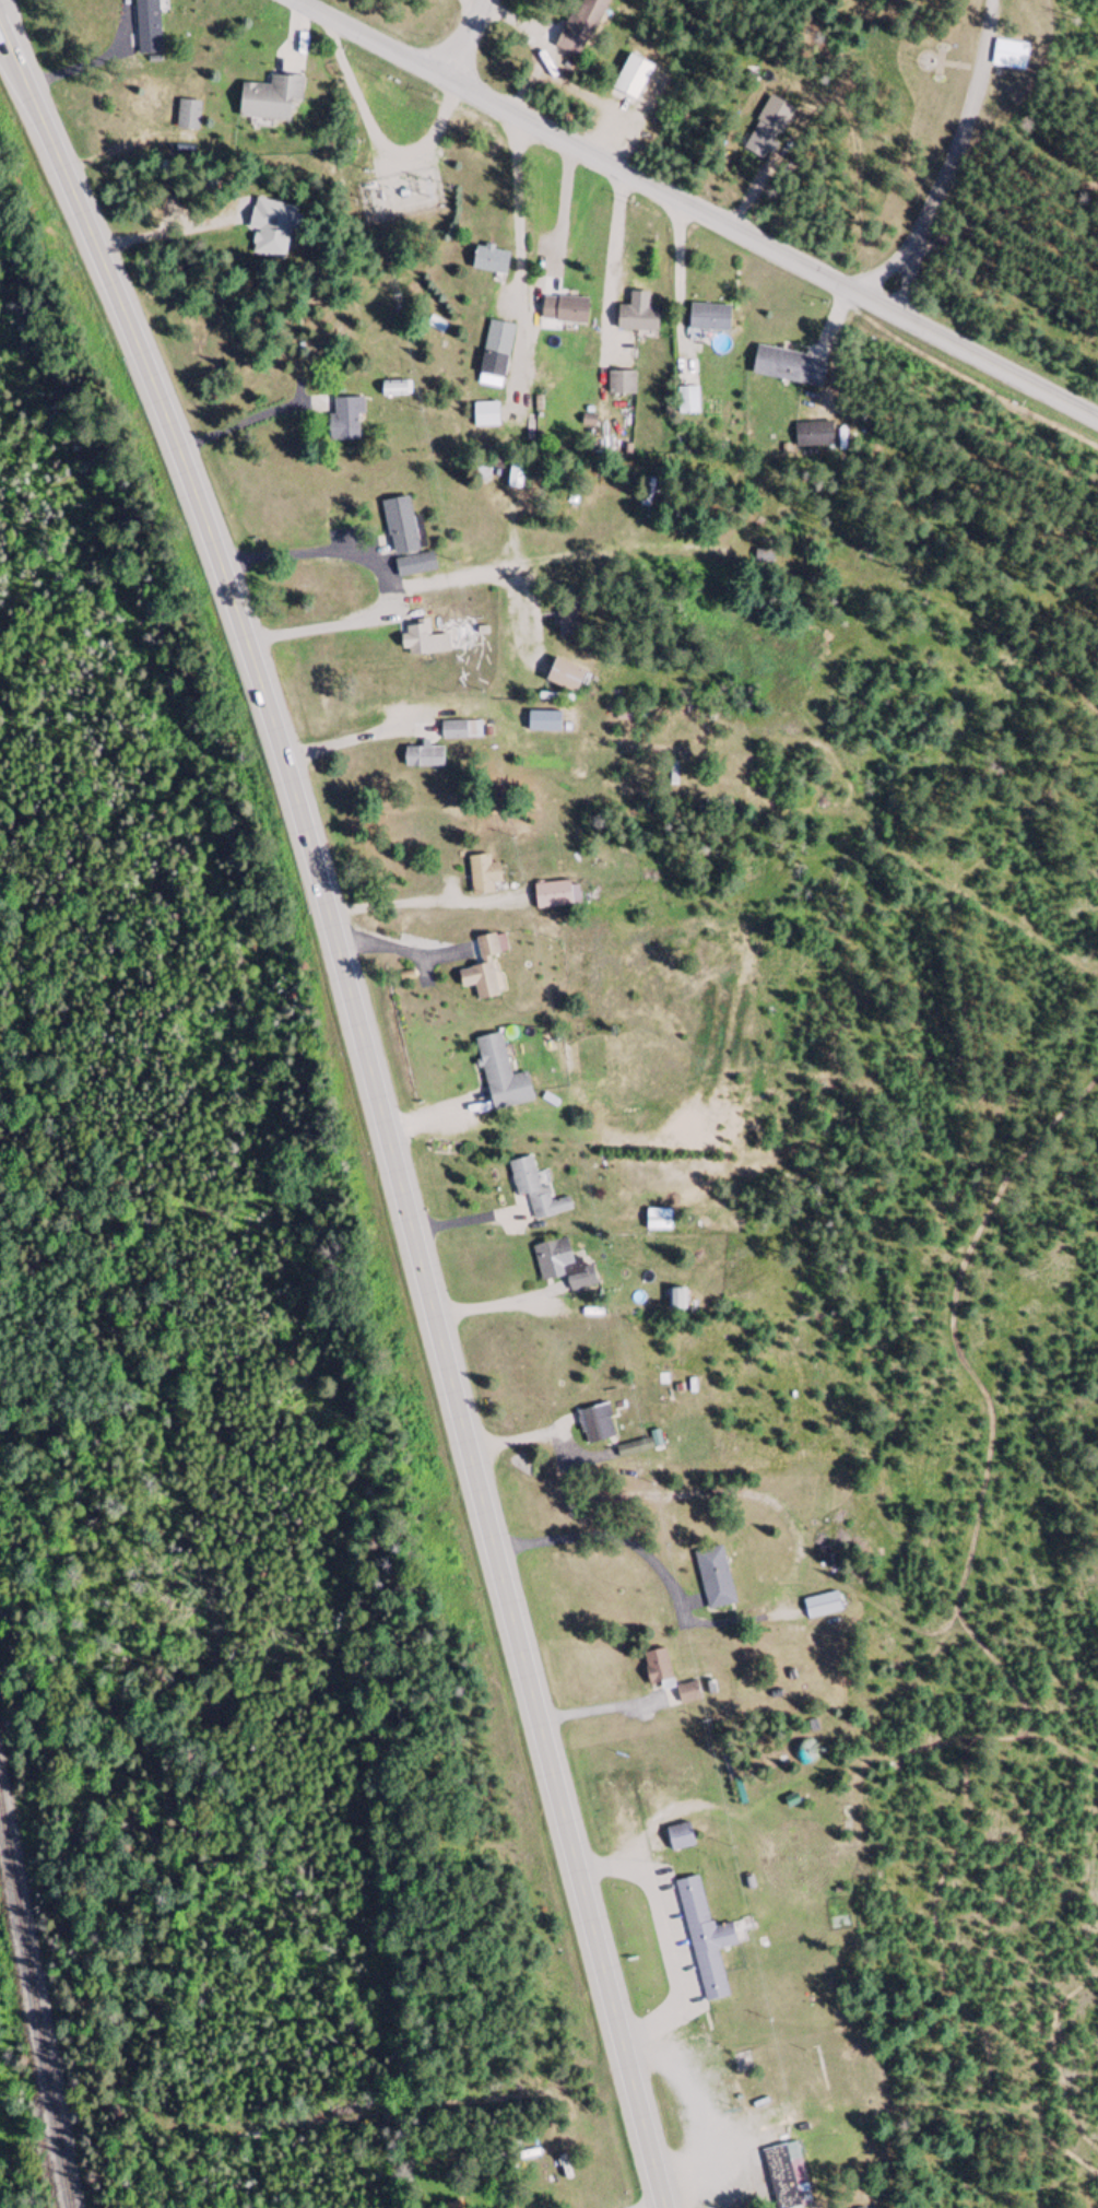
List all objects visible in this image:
park: (963, 11)
building: (147, 26)
building: (580, 26)
road: (467, 40)
building: (1011, 55)
building: (631, 80)
building: (270, 97)
building: (188, 115)
building: (761, 140)
road: (954, 160)
road: (1012, 202)
road: (695, 210)
building: (272, 230)
road: (169, 236)
building: (491, 261)
building: (565, 312)
building: (709, 319)
building: (637, 320)
building: (435, 325)
building: (496, 355)
building: (789, 367)
building: (622, 384)
building: (688, 402)
building: (486, 416)
building: (345, 421)
building: (814, 436)
building: (481, 472)
building: (649, 496)
building: (401, 528)
building: (415, 566)
building: (424, 642)
building: (565, 678)
building: (544, 723)
building: (461, 731)
road: (757, 749)
building: (424, 759)
building: (483, 877)
building: (555, 896)
road: (981, 901)
building: (482, 971)
building: (501, 1077)
road: (379, 1100)
building: (536, 1191)
building: (658, 1221)
building: (563, 1266)
building: (676, 1301)
building: (597, 1424)
building: (715, 1579)
building: (822, 1608)
building: (657, 1669)
building: (689, 1696)
building: (846, 1820)
building: (680, 1837)
building: (705, 1941)
railway: (35, 2004)
road: (134, 2013)
building: (787, 2177)

